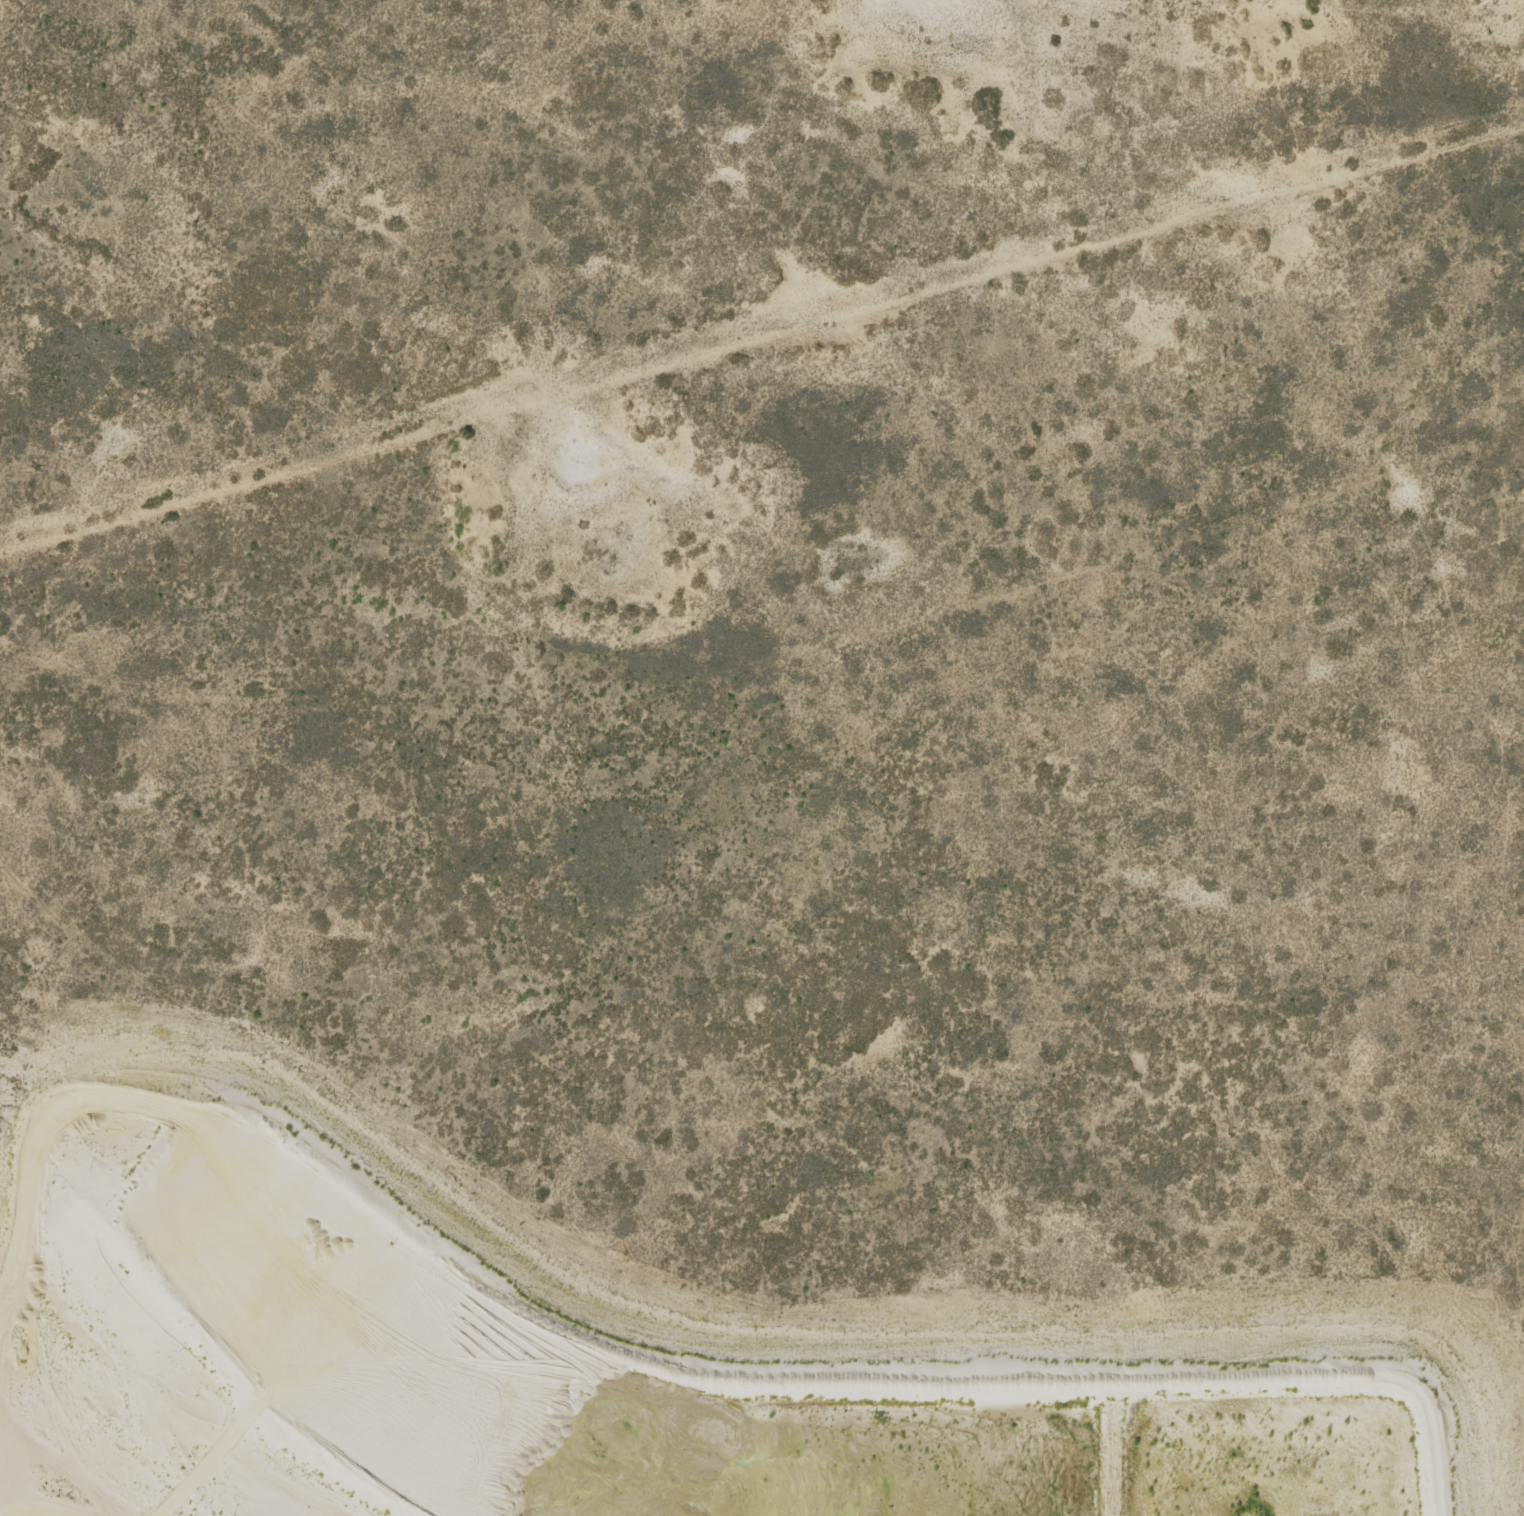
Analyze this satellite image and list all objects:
road: (22, 1434)
road: (18, 1494)

